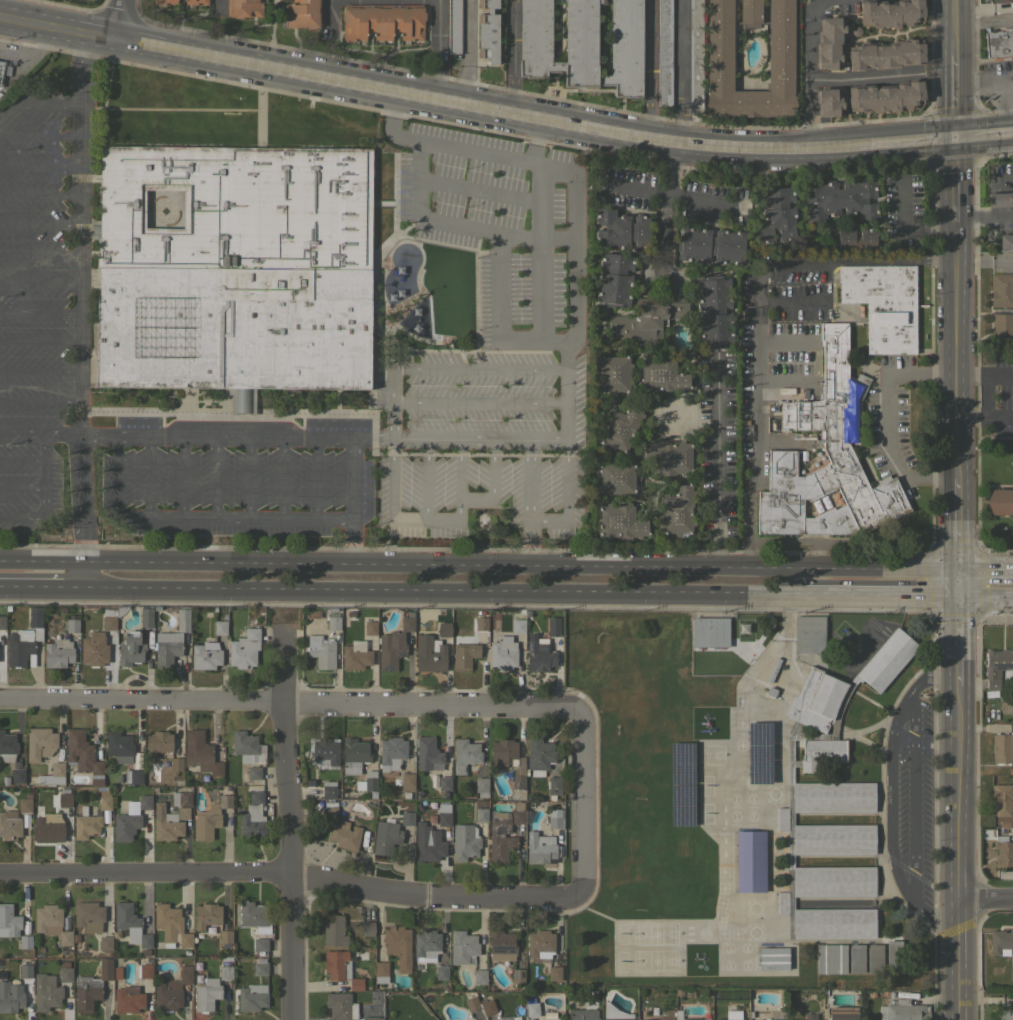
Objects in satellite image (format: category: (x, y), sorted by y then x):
building: (1003, 1)
building: (165, 2)
building: (196, 2)
road: (220, 7)
building: (218, 8)
building: (244, 8)
road: (328, 12)
building: (303, 13)
building: (890, 13)
building: (646, 19)
road: (121, 20)
building: (382, 21)
building: (454, 26)
building: (695, 28)
road: (955, 28)
building: (488, 31)
building: (829, 42)
building: (583, 44)
building: (999, 45)
road: (438, 46)
road: (466, 48)
building: (664, 52)
road: (511, 53)
road: (679, 54)
building: (885, 54)
building: (719, 59)
road: (647, 65)
road: (808, 68)
building: (2, 70)
road: (863, 75)
road: (984, 82)
building: (695, 85)
road: (428, 90)
road: (955, 93)
building: (885, 97)
building: (828, 102)
road: (1003, 104)
road: (37, 105)
road: (677, 122)
road: (984, 128)
traffic signals: (955, 131)
road: (906, 134)
road: (39, 135)
road: (438, 143)
road: (39, 163)
road: (956, 176)
road: (1003, 180)
road: (541, 181)
road: (667, 192)
road: (39, 194)
road: (673, 195)
building: (1000, 199)
building: (839, 200)
road: (541, 208)
road: (985, 214)
building: (776, 215)
road: (40, 224)
building: (621, 229)
road: (537, 234)
building: (852, 237)
building: (1006, 242)
road: (499, 243)
building: (711, 245)
road: (40, 252)
road: (577, 260)
building: (235, 270)
building: (614, 279)
road: (40, 282)
building: (1001, 289)
road: (80, 297)
building: (883, 304)
road: (40, 309)
building: (714, 310)
road: (758, 319)
building: (645, 320)
building: (408, 322)
building: (1001, 331)
road: (40, 340)
road: (957, 351)
road: (40, 368)
road: (464, 368)
building: (614, 374)
building: (662, 376)
road: (984, 376)
road: (40, 401)
road: (480, 401)
road: (984, 417)
road: (392, 419)
road: (887, 419)
building: (620, 426)
building: (824, 428)
road: (40, 433)
road: (236, 436)
road: (480, 438)
building: (668, 457)
road: (22, 460)
road: (44, 461)
road: (716, 464)
road: (116, 474)
road: (148, 475)
road: (182, 476)
road: (216, 476)
road: (250, 476)
road: (281, 477)
road: (459, 477)
building: (616, 477)
road: (316, 478)
road: (391, 478)
road: (426, 478)
road: (493, 485)
road: (22, 487)
road: (566, 498)
road: (353, 500)
building: (1000, 501)
road: (529, 502)
road: (44, 503)
building: (676, 512)
road: (234, 516)
road: (22, 517)
road: (425, 518)
building: (620, 521)
road: (957, 524)
road: (42, 561)
road: (520, 565)
traffic signals: (957, 570)
road: (985, 570)
road: (84, 574)
road: (957, 583)
road: (42, 586)
road: (444, 590)
road: (880, 595)
traffic signals: (958, 596)
road: (985, 596)
building: (60, 609)
building: (214, 609)
building: (331, 609)
building: (352, 614)
building: (314, 615)
building: (527, 615)
building: (146, 617)
building: (109, 618)
building: (182, 618)
building: (2, 619)
building: (481, 619)
building: (35, 621)
building: (333, 621)
building: (407, 622)
building: (72, 624)
building: (517, 626)
building: (219, 627)
building: (370, 628)
building: (444, 629)
building: (743, 629)
building: (707, 632)
building: (808, 633)
building: (556, 643)
building: (166, 647)
building: (542, 647)
building: (19, 649)
building: (94, 649)
building: (130, 649)
building: (244, 649)
building: (504, 649)
building: (391, 650)
building: (464, 650)
building: (321, 651)
building: (58, 653)
building: (429, 653)
building: (205, 655)
building: (355, 655)
building: (885, 661)
road: (786, 664)
building: (996, 665)
building: (772, 669)
road: (910, 689)
building: (770, 692)
building: (842, 697)
building: (815, 701)
road: (288, 705)
building: (773, 732)
rooftop solar panel: (768, 733)
building: (158, 742)
building: (40, 743)
building: (244, 745)
building: (118, 746)
rooftop solar panel: (756, 746)
building: (7, 747)
building: (1001, 747)
building: (325, 750)
building: (466, 751)
building: (200, 753)
building: (391, 753)
building: (427, 753)
building: (83, 755)
building: (354, 755)
building: (539, 755)
rooftop solar panel: (680, 755)
building: (820, 755)
rooftop solar panel: (766, 757)
building: (508, 759)
building: (175, 765)
building: (459, 768)
rooftop solar panel: (682, 772)
building: (253, 773)
building: (53, 774)
rooftop solar panel: (756, 774)
rooftop solar panel: (767, 774)
building: (17, 776)
building: (133, 776)
building: (118, 778)
building: (4, 781)
building: (367, 781)
building: (407, 781)
building: (309, 782)
building: (444, 785)
building: (481, 787)
building: (552, 787)
building: (328, 789)
road: (913, 792)
building: (418, 794)
building: (372, 795)
building: (405, 795)
rooftop solar panel: (682, 795)
building: (182, 796)
building: (64, 798)
building: (832, 798)
building: (1003, 801)
building: (104, 802)
building: (24, 805)
road: (573, 805)
road: (961, 808)
building: (329, 810)
building: (444, 814)
building: (517, 814)
building: (481, 815)
rooftop solar panel: (683, 815)
building: (130, 818)
building: (209, 818)
building: (253, 818)
building: (407, 818)
building: (555, 818)
building: (781, 819)
building: (25, 821)
building: (168, 822)
road: (889, 823)
building: (85, 824)
building: (9, 825)
road: (287, 825)
building: (47, 830)
building: (344, 835)
building: (433, 836)
building: (385, 837)
building: (500, 839)
building: (832, 840)
building: (465, 841)
building: (540, 848)
building: (429, 849)
building: (1003, 851)
building: (749, 860)
road: (286, 872)
building: (832, 881)
road: (988, 897)
building: (781, 903)
building: (207, 915)
building: (88, 916)
building: (254, 917)
road: (936, 918)
building: (9, 921)
building: (52, 923)
building: (65, 923)
building: (163, 924)
building: (834, 924)
building: (129, 925)
building: (366, 928)
building: (333, 930)
road: (180, 932)
building: (225, 936)
building: (25, 941)
building: (183, 941)
building: (1001, 941)
building: (105, 943)
building: (260, 944)
building: (540, 944)
building: (9, 945)
building: (426, 945)
building: (501, 945)
building: (398, 946)
building: (463, 947)
building: (144, 952)
building: (108, 953)
building: (773, 958)
building: (831, 958)
building: (856, 958)
building: (874, 958)
building: (895, 958)
building: (197, 966)
building: (260, 968)
building: (340, 968)
building: (105, 969)
building: (25, 970)
building: (225, 970)
building: (143, 971)
building: (381, 972)
building: (441, 972)
building: (1011, 972)
building: (116, 973)
building: (554, 973)
building: (65, 974)
building: (185, 974)
building: (3, 975)
building: (518, 975)
building: (479, 976)
building: (198, 979)
building: (677, 991)
building: (45, 993)
building: (85, 993)
building: (871, 993)
building: (884, 993)
building: (206, 994)
building: (890, 994)
building: (10, 996)
building: (167, 996)
building: (252, 997)
building: (128, 999)
building: (471, 1003)
building: (185, 1004)
building: (340, 1006)
building: (487, 1006)
building: (677, 1006)
building: (532, 1009)
building: (652, 1010)
building: (903, 1010)
building: (615, 1013)
building: (841, 1013)
building: (583, 1014)
building: (1005, 1014)
building: (548, 1015)
building: (664, 1015)
building: (488, 1017)
building: (371, 1018)
building: (530, 1019)
building: (695, 1019)
building: (730, 1019)
building: (767, 1019)
building: (802, 1019)

